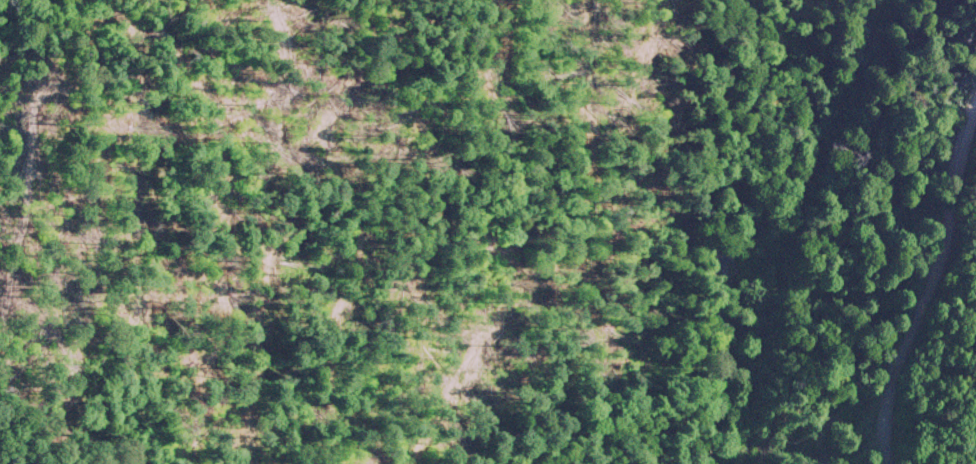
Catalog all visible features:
railway: (799, 230)
road: (923, 277)

